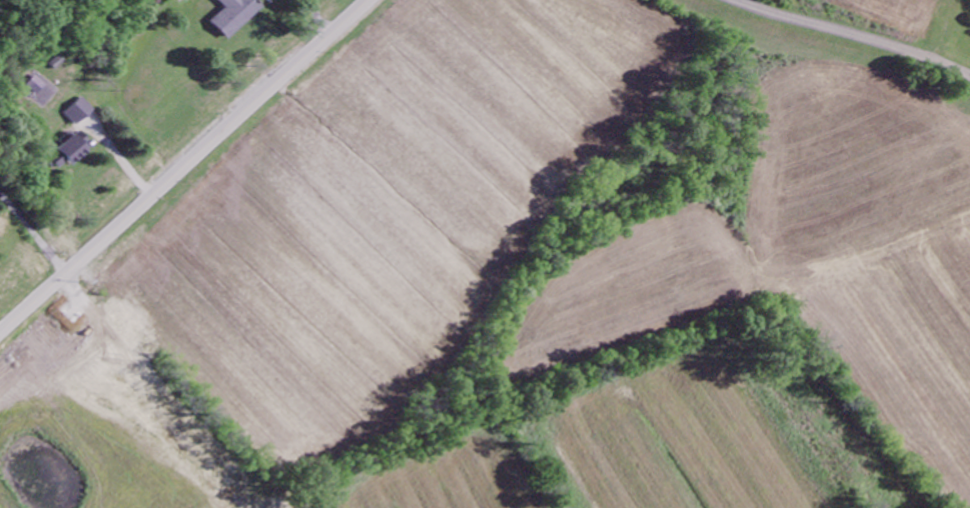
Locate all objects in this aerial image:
building: (240, 16)
road: (312, 21)
building: (42, 86)
building: (84, 113)
building: (70, 152)
road: (185, 167)

